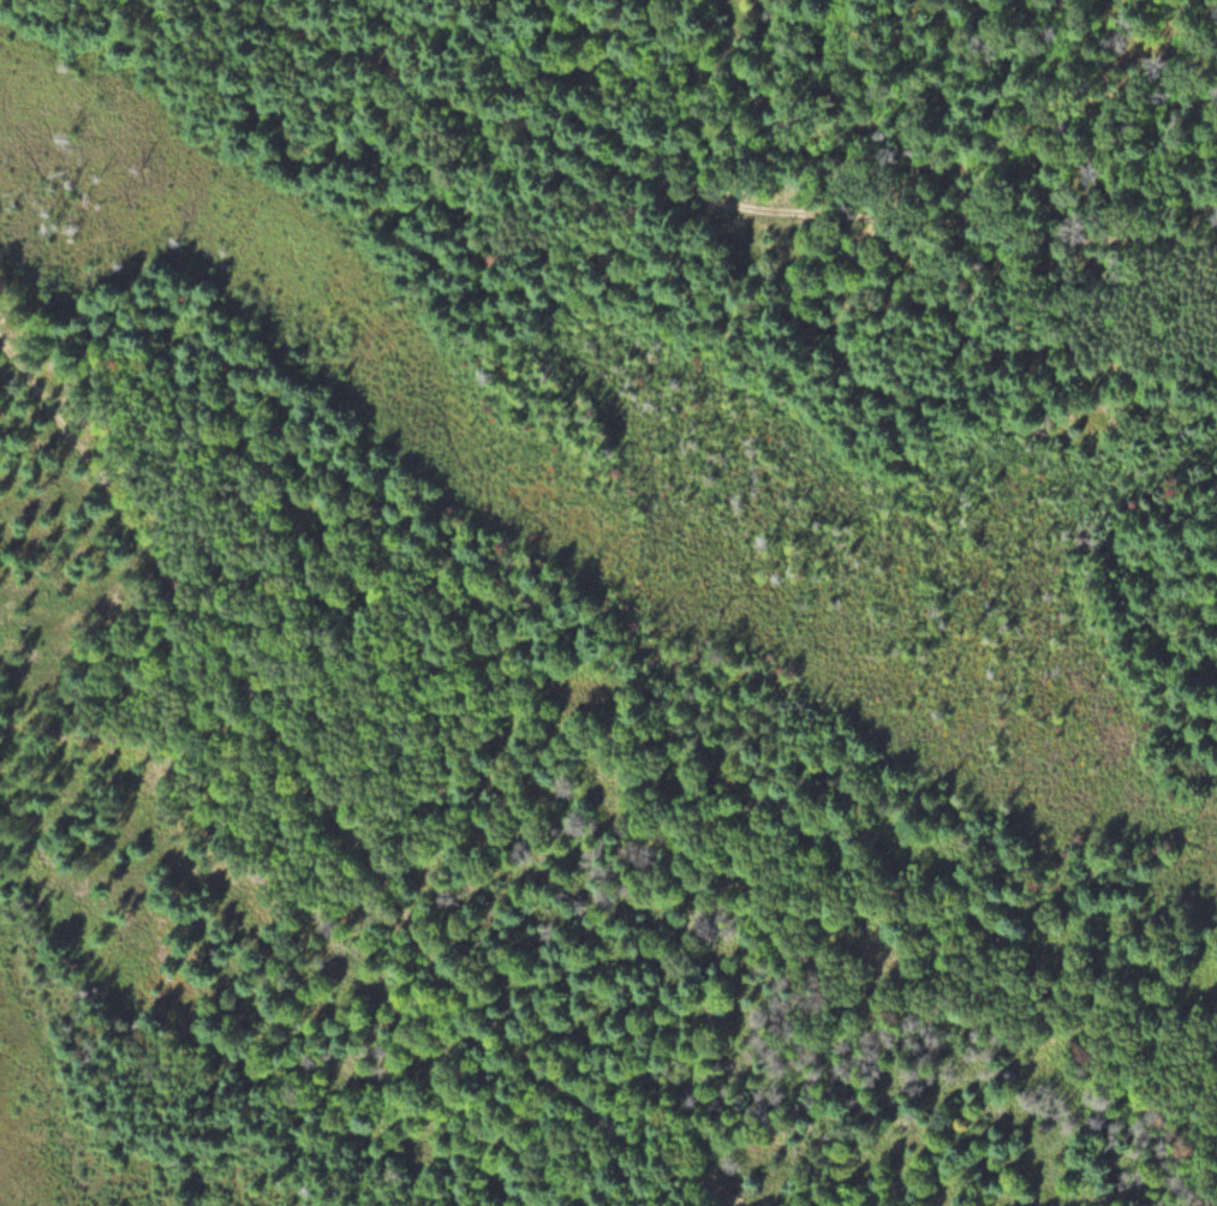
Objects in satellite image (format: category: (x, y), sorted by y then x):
road: (345, 811)

